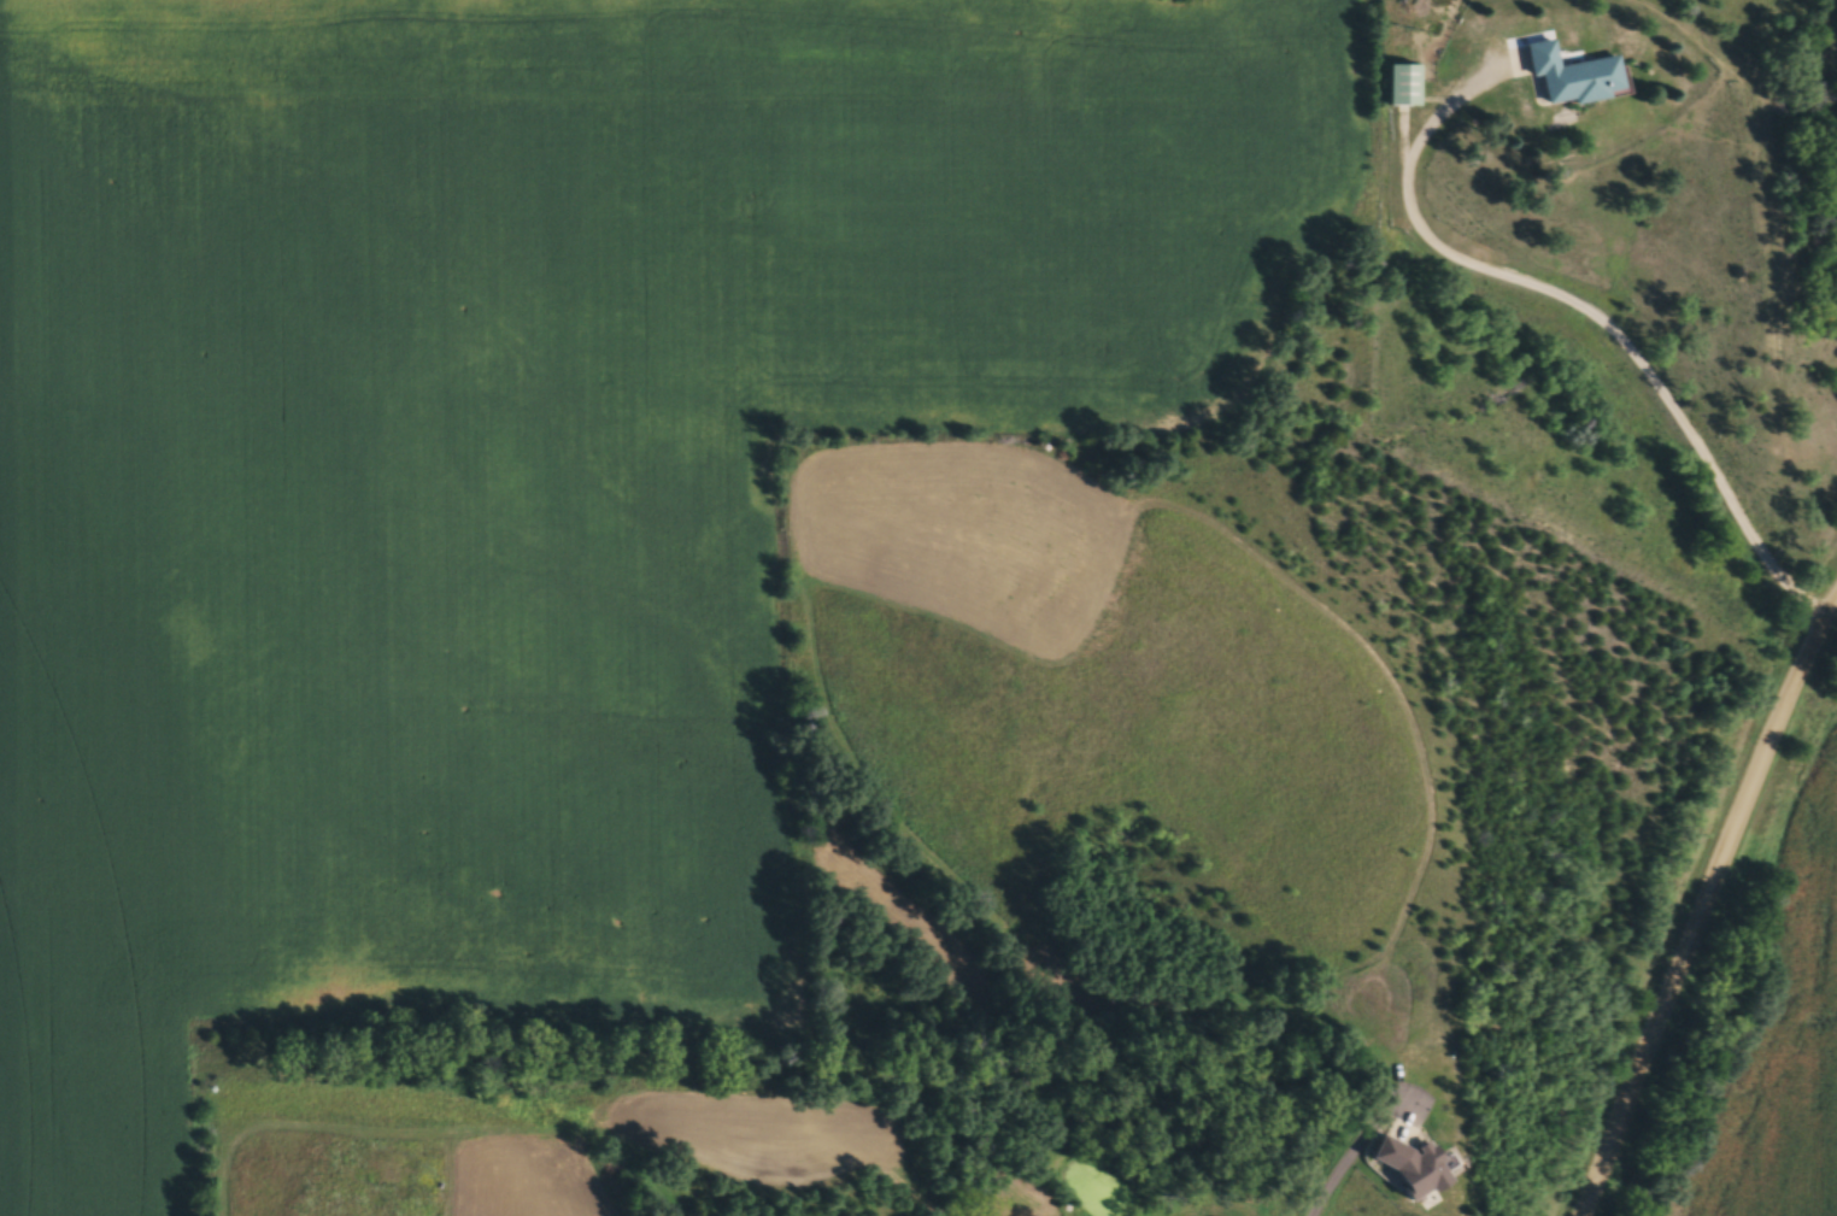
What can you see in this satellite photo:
road: (1583, 307)
road: (1186, 898)
road: (1707, 905)
road: (1337, 1175)

